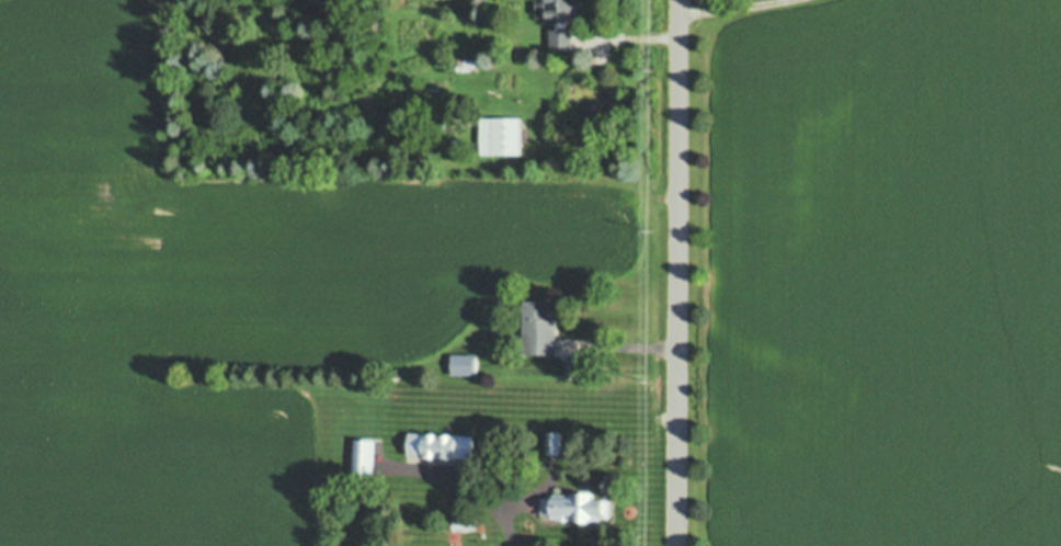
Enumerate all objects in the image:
building: (559, 7)
road: (731, 7)
building: (563, 33)
building: (466, 58)
building: (467, 95)
building: (502, 129)
road: (674, 273)
crop: (876, 277)
building: (540, 321)
building: (466, 359)
building: (580, 361)
building: (489, 436)
building: (555, 436)
building: (442, 439)
building: (578, 499)
road: (492, 507)
building: (466, 519)

